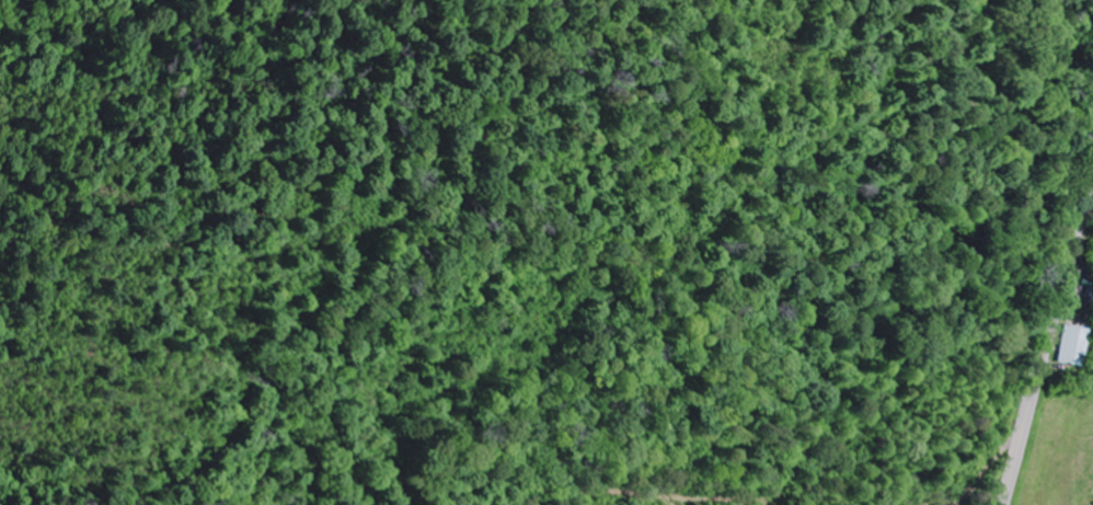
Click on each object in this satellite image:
road: (1051, 333)

